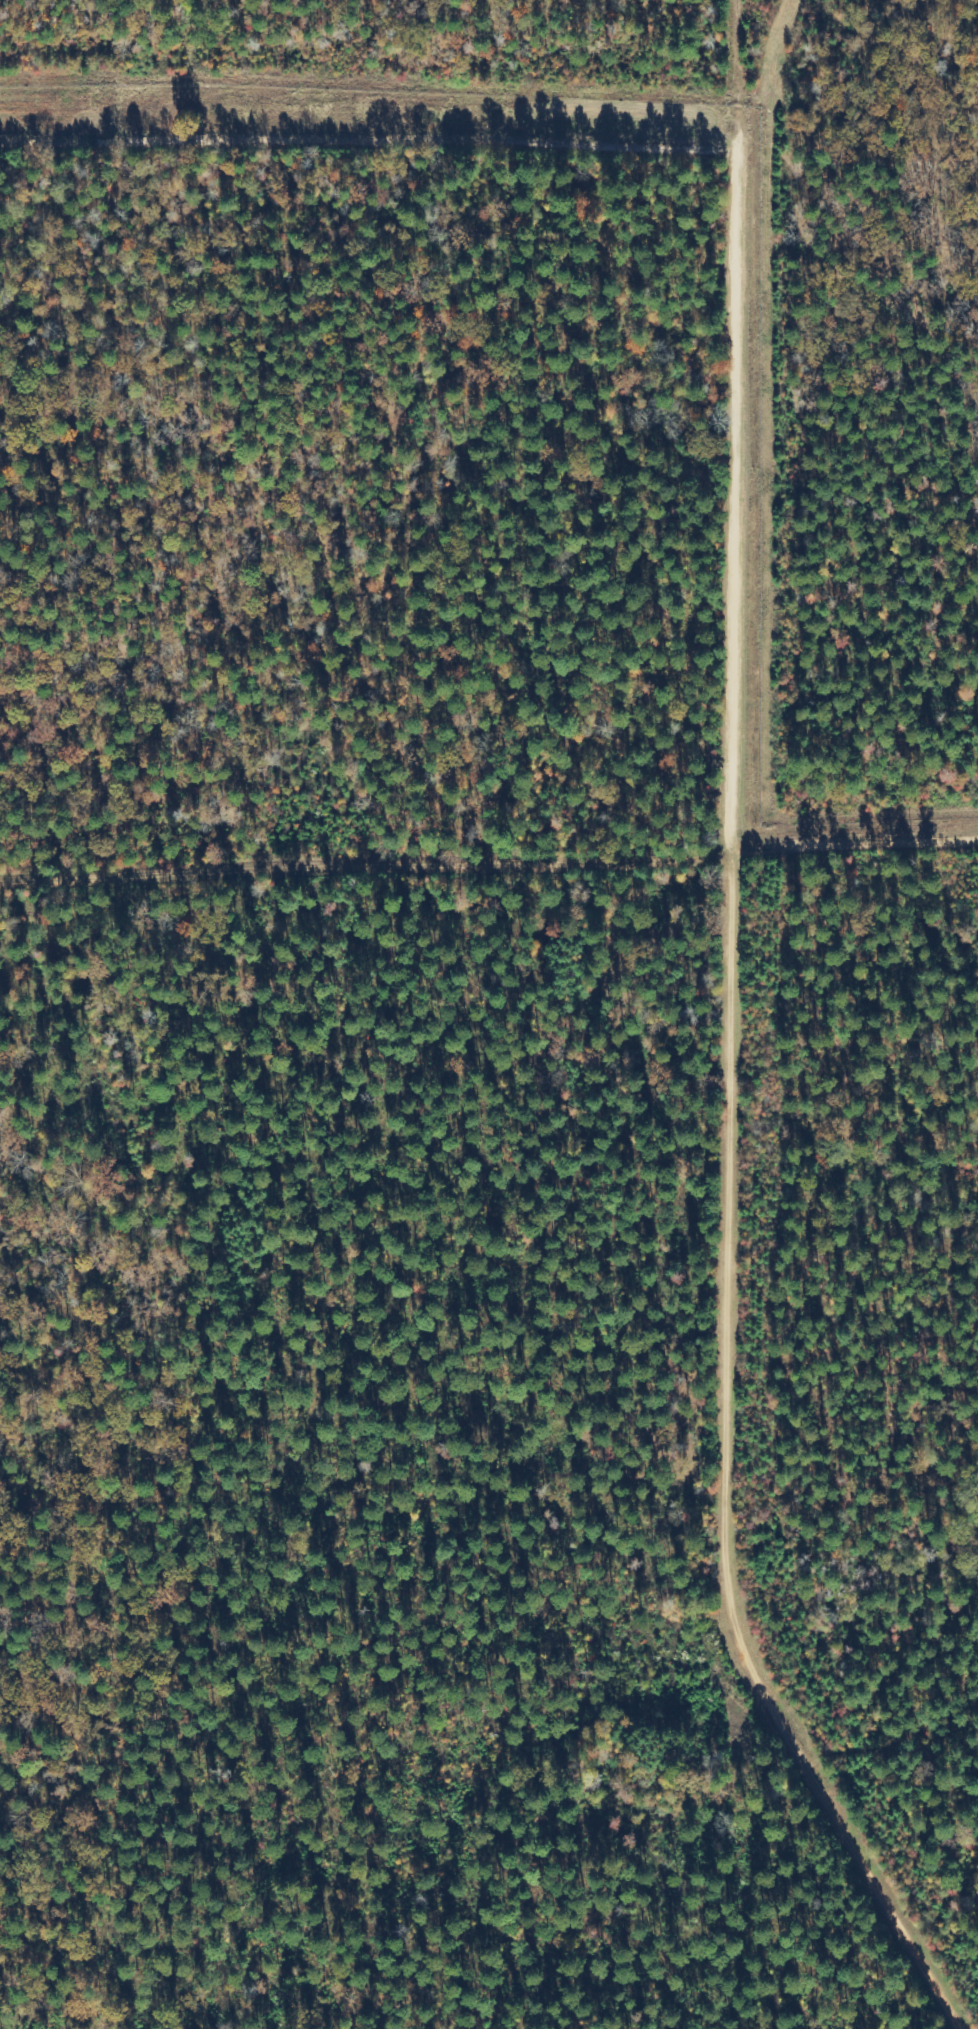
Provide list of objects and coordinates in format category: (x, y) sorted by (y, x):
road: (489, 835)
road: (762, 1019)

